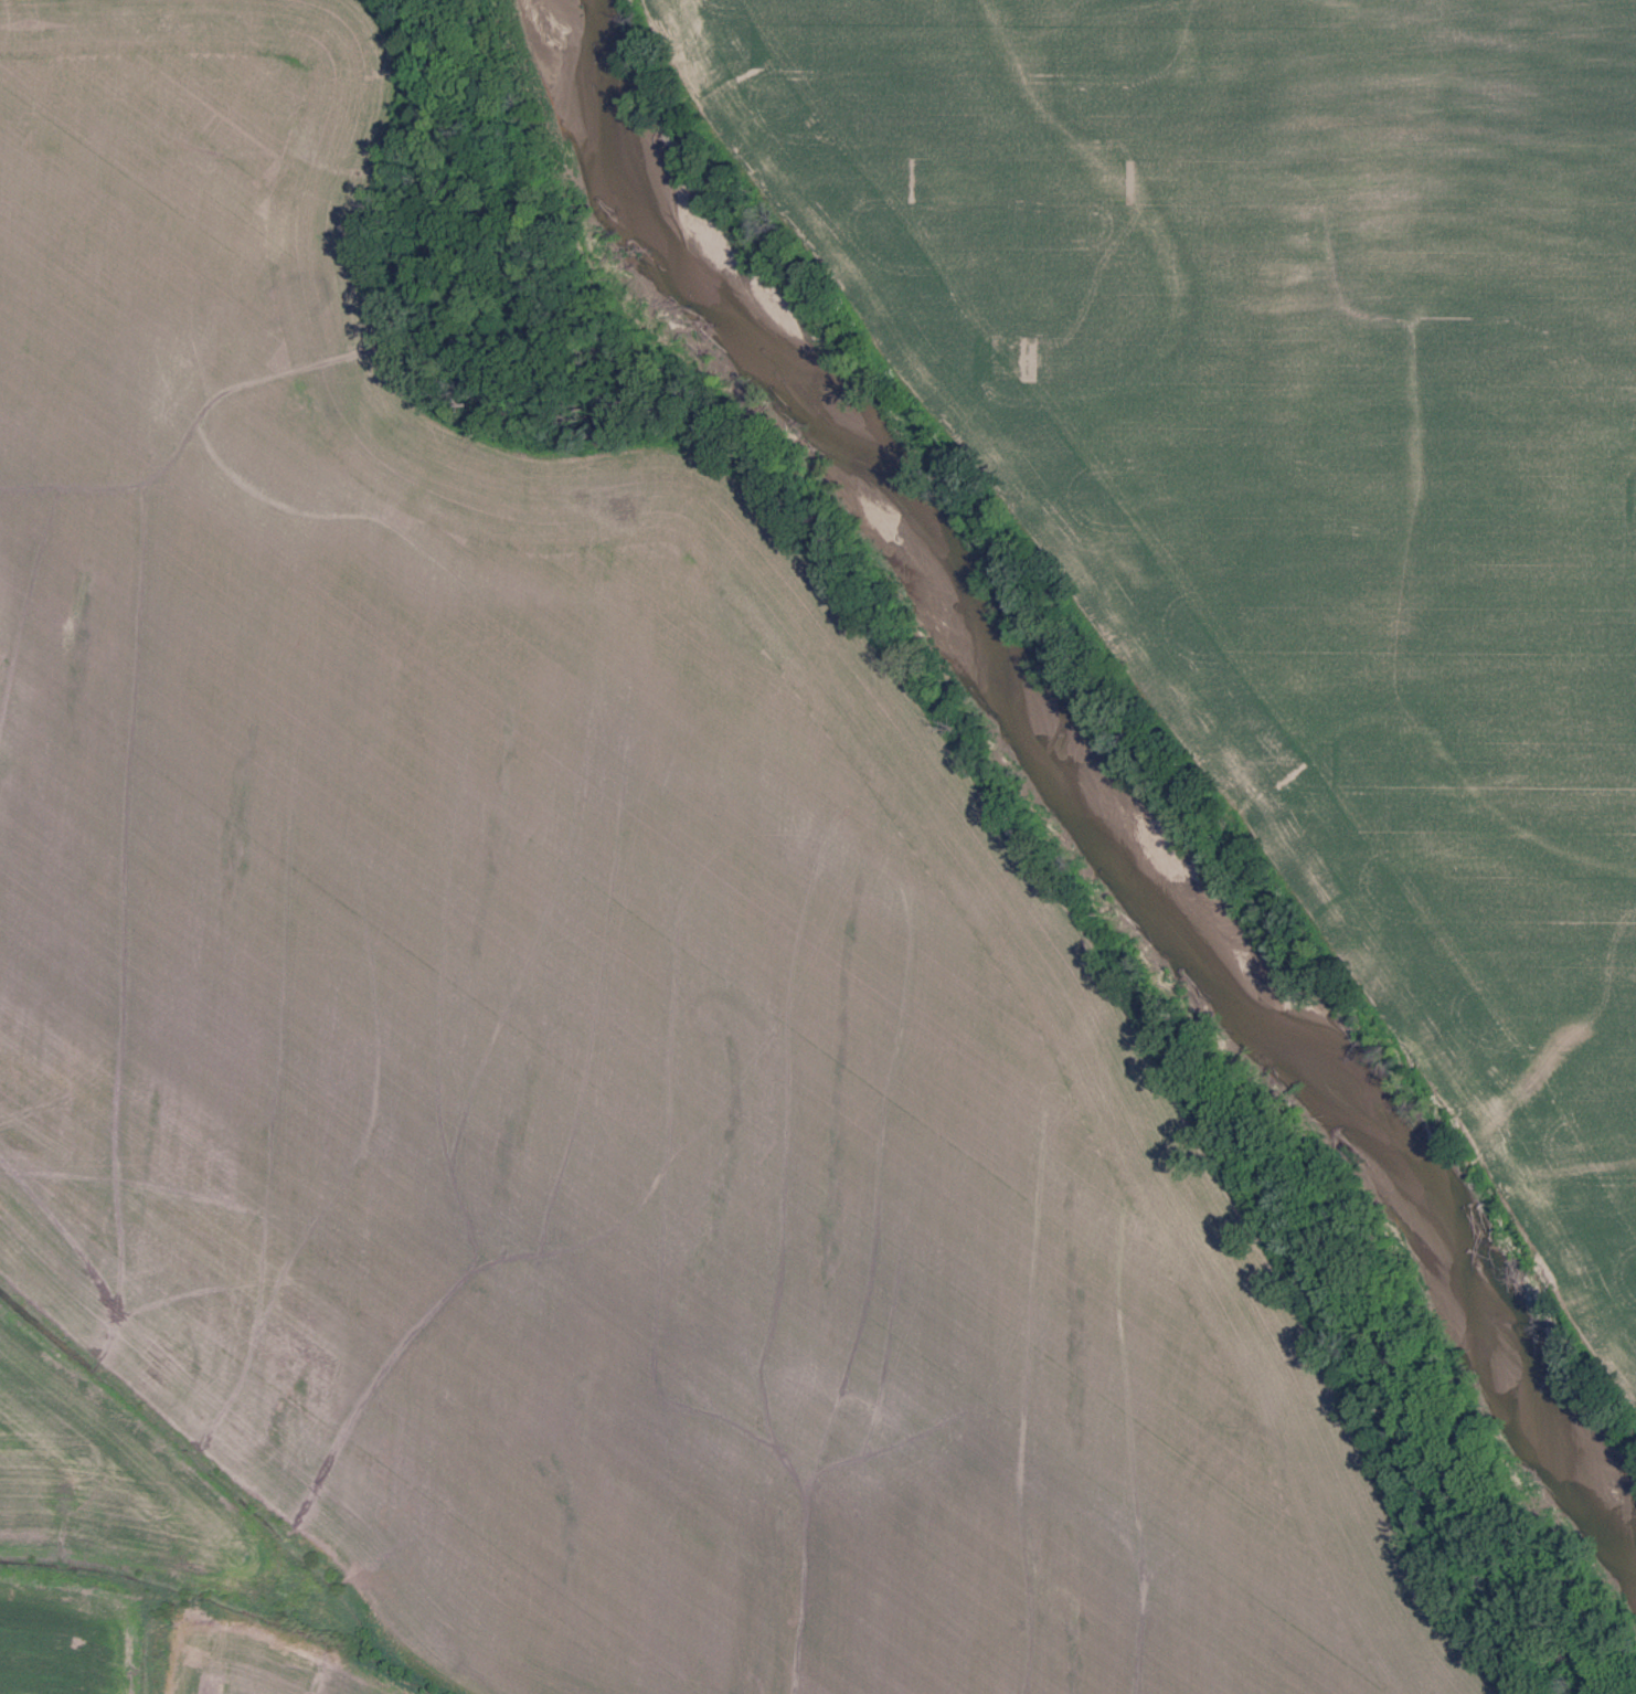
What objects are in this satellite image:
river: (1083, 786)

